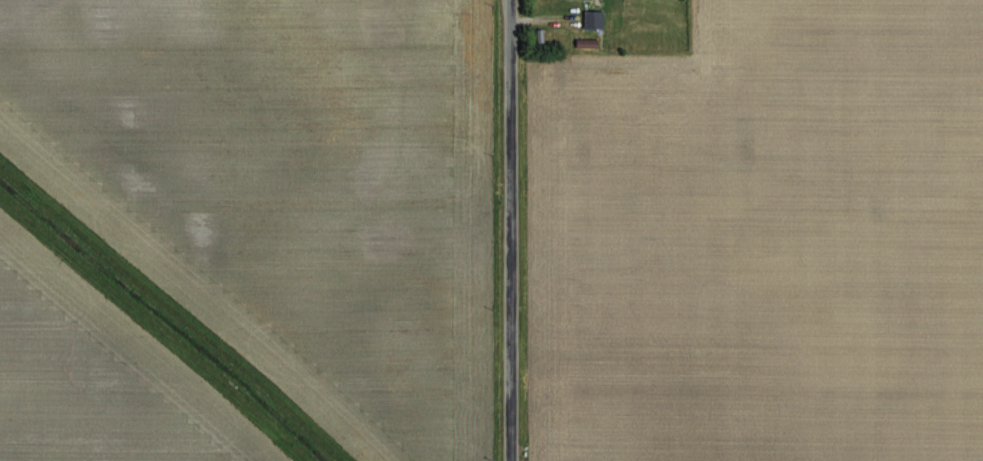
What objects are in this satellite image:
building: (591, 16)
road: (506, 230)

